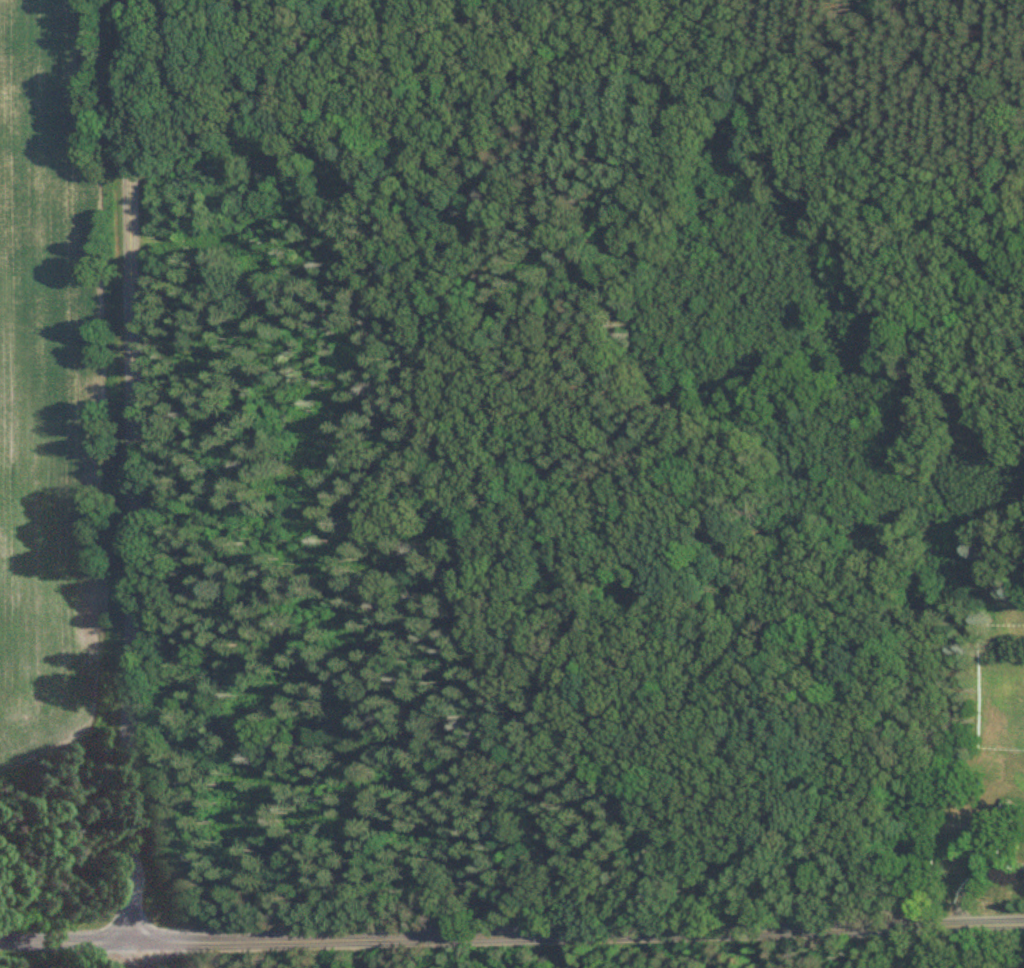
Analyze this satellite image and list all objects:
road: (133, 484)
road: (512, 937)

